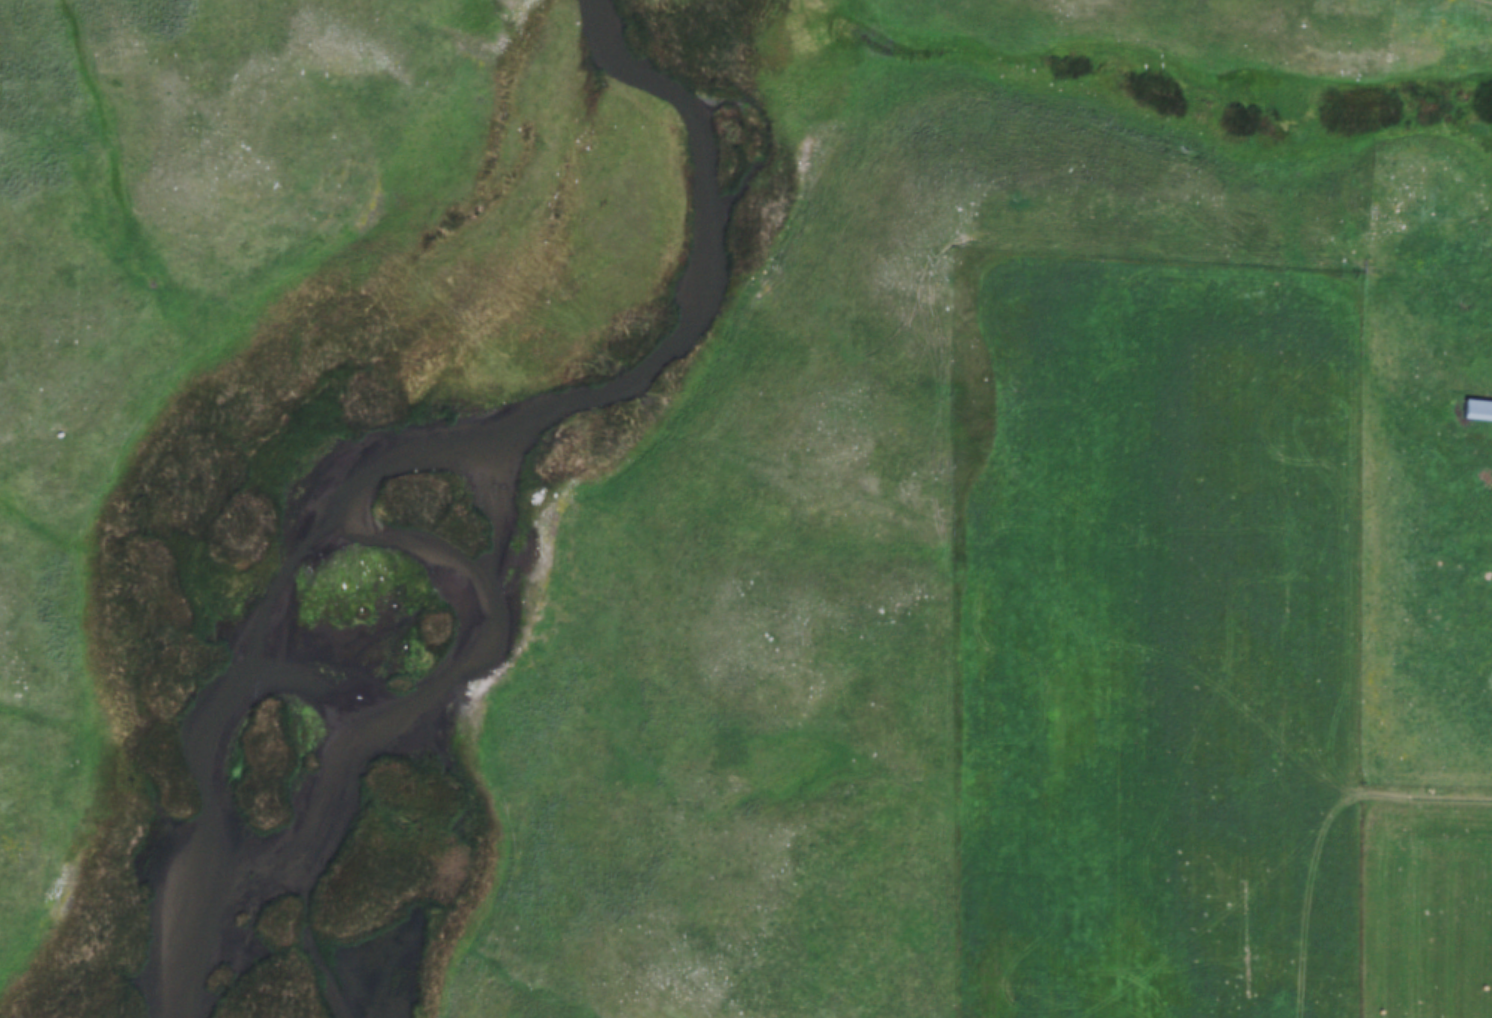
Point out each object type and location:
building: (1478, 409)

